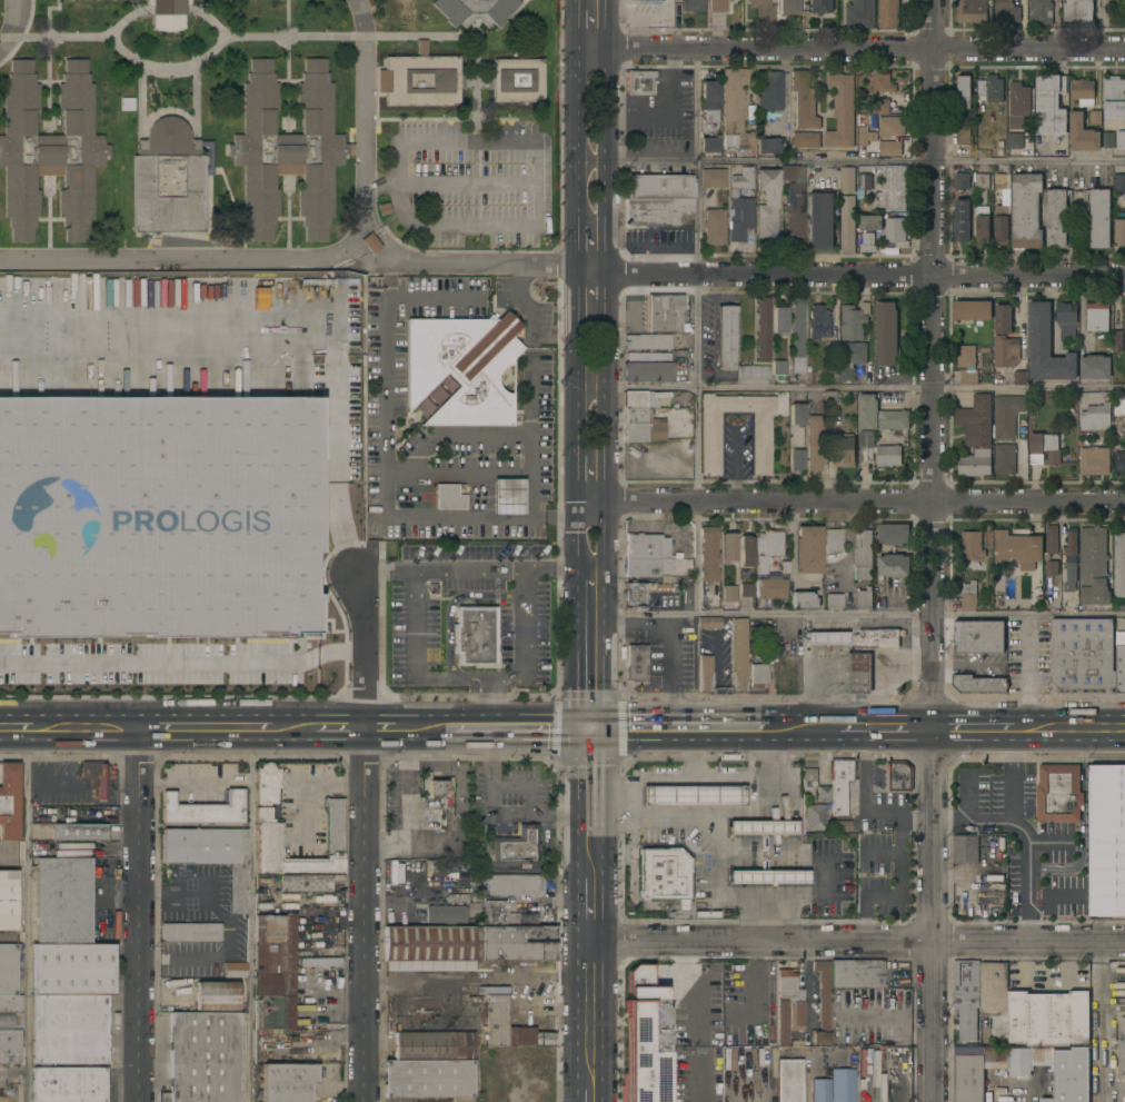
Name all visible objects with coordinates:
building: (72, 0)
building: (637, 1)
building: (693, 4)
building: (717, 6)
building: (822, 6)
building: (787, 7)
building: (970, 10)
building: (1078, 10)
building: (474, 11)
building: (761, 11)
building: (1007, 11)
building: (1041, 11)
building: (860, 13)
building: (888, 13)
building: (167, 14)
building: (396, 14)
road: (579, 24)
road: (608, 24)
road: (14, 28)
road: (866, 48)
road: (594, 49)
building: (420, 79)
building: (516, 80)
building: (640, 82)
building: (882, 82)
building: (992, 88)
building: (768, 91)
building: (964, 91)
building: (1083, 91)
building: (1114, 98)
building: (1019, 99)
building: (709, 100)
building: (804, 100)
building: (1049, 105)
building: (880, 106)
road: (364, 109)
building: (734, 110)
building: (842, 111)
road: (669, 115)
building: (1095, 117)
building: (890, 126)
building: (1082, 133)
building: (865, 135)
building: (963, 135)
building: (1107, 139)
building: (805, 140)
building: (1015, 140)
building: (1121, 140)
road: (467, 143)
building: (708, 145)
building: (766, 146)
building: (890, 148)
building: (287, 149)
building: (49, 150)
road: (579, 157)
road: (608, 160)
road: (866, 160)
road: (535, 163)
building: (792, 173)
building: (711, 178)
building: (847, 179)
building: (962, 180)
building: (983, 180)
building: (167, 181)
building: (864, 181)
building: (1000, 181)
building: (1119, 181)
parking lot: (467, 182)
road: (450, 185)
building: (658, 187)
building: (893, 189)
building: (766, 201)
building: (739, 205)
road: (536, 207)
building: (1025, 210)
building: (656, 211)
building: (794, 211)
building: (1056, 218)
building: (1099, 218)
building: (820, 220)
building: (962, 220)
building: (870, 221)
building: (1000, 222)
building: (847, 224)
building: (983, 224)
building: (714, 227)
road: (430, 229)
building: (896, 230)
building: (1119, 231)
road: (384, 240)
building: (868, 242)
building: (370, 245)
road: (361, 258)
road: (191, 259)
road: (746, 275)
road: (607, 297)
building: (972, 309)
building: (664, 314)
building: (1123, 315)
building: (1097, 316)
building: (1067, 317)
building: (1003, 319)
building: (779, 320)
building: (854, 320)
building: (818, 321)
road: (578, 326)
building: (797, 327)
building: (763, 329)
building: (886, 332)
building: (725, 337)
building: (1117, 340)
building: (646, 341)
building: (1045, 346)
building: (1006, 350)
building: (854, 351)
building: (966, 356)
building: (834, 357)
road: (336, 359)
road: (935, 364)
building: (1095, 366)
building: (647, 367)
building: (778, 367)
building: (461, 368)
building: (753, 373)
building: (847, 373)
building: (968, 376)
building: (1019, 376)
road: (593, 386)
road: (866, 386)
road: (694, 388)
building: (832, 398)
building: (635, 399)
building: (1119, 405)
building: (796, 414)
building: (878, 414)
building: (1006, 415)
building: (1096, 416)
road: (578, 420)
building: (975, 420)
building: (1124, 424)
building: (641, 426)
building: (814, 443)
building: (709, 444)
building: (865, 445)
building: (1044, 448)
building: (844, 450)
building: (888, 455)
building: (1005, 458)
building: (796, 459)
building: (1094, 460)
building: (1119, 460)
building: (975, 463)
road: (734, 467)
road: (579, 479)
building: (507, 496)
building: (448, 497)
road: (852, 502)
building: (268, 508)
road: (409, 517)
building: (109, 519)
road: (607, 525)
building: (894, 534)
building: (1052, 538)
road: (579, 539)
building: (833, 539)
building: (162, 542)
building: (268, 542)
building: (1071, 544)
building: (972, 545)
building: (646, 547)
building: (727, 547)
building: (766, 548)
building: (1017, 548)
building: (807, 549)
building: (745, 550)
building: (863, 554)
building: (708, 555)
road: (695, 556)
building: (893, 565)
building: (1094, 565)
building: (1119, 565)
road: (470, 567)
building: (641, 567)
building: (1052, 567)
building: (1071, 572)
building: (770, 588)
building: (745, 590)
building: (728, 594)
building: (634, 595)
building: (969, 596)
building: (864, 598)
building: (803, 600)
building: (834, 600)
building: (125, 606)
road: (865, 613)
building: (708, 623)
building: (474, 635)
building: (978, 636)
building: (875, 638)
building: (826, 639)
building: (769, 649)
road: (578, 653)
building: (778, 653)
building: (1082, 654)
building: (737, 655)
road: (182, 656)
building: (1121, 662)
building: (636, 663)
road: (666, 669)
building: (858, 673)
building: (705, 674)
building: (757, 675)
road: (467, 677)
building: (786, 678)
building: (977, 684)
road: (487, 703)
road: (677, 727)
road: (82, 728)
road: (203, 728)
road: (400, 728)
road: (515, 728)
traffic signals: (591, 728)
road: (848, 728)
road: (983, 728)
road: (1078, 728)
road: (12, 729)
road: (290, 729)
road: (338, 729)
road: (425, 762)
building: (900, 775)
road: (751, 778)
road: (669, 780)
building: (101, 781)
road: (182, 784)
road: (331, 784)
building: (840, 784)
building: (435, 786)
road: (521, 787)
road: (863, 791)
building: (823, 793)
building: (1058, 793)
road: (591, 795)
building: (693, 796)
road: (447, 798)
building: (9, 802)
road: (456, 804)
road: (410, 806)
building: (203, 808)
building: (335, 813)
road: (748, 813)
road: (1016, 815)
building: (815, 816)
road: (918, 821)
building: (842, 826)
building: (761, 827)
building: (78, 832)
building: (1107, 840)
road: (715, 843)
building: (516, 847)
building: (965, 848)
road: (882, 853)
building: (211, 855)
road: (815, 857)
building: (664, 875)
building: (767, 877)
road: (1027, 878)
building: (307, 883)
building: (514, 885)
road: (897, 893)
building: (8, 901)
building: (62, 901)
road: (591, 902)
building: (492, 913)
building: (445, 914)
building: (706, 914)
road: (26, 915)
road: (140, 915)
road: (249, 915)
road: (365, 915)
road: (934, 915)
building: (273, 930)
building: (189, 933)
road: (858, 941)
building: (516, 943)
building: (427, 950)
building: (318, 962)
building: (8, 970)
building: (72, 970)
building: (233, 970)
building: (273, 971)
building: (857, 973)
road: (477, 977)
road: (756, 991)
building: (216, 996)
building: (966, 996)
building: (995, 997)
building: (822, 1003)
building: (10, 1004)
building: (788, 1006)
road: (590, 1007)
building: (273, 1012)
building: (1047, 1017)
road: (698, 1019)
building: (10, 1021)
road: (1103, 1022)
building: (444, 1025)
building: (509, 1027)
building: (69, 1030)
building: (644, 1035)
building: (203, 1039)
building: (1123, 1044)
building: (432, 1045)
building: (10, 1048)
road: (804, 1058)
building: (760, 1061)
building: (1056, 1070)
building: (976, 1071)
building: (428, 1079)
building: (788, 1081)
building: (287, 1082)
building: (68, 1084)
building: (203, 1084)
road: (746, 1085)
building: (843, 1085)
road: (590, 1089)
building: (820, 1091)
building: (461, 1100)
building: (1124, 1101)

